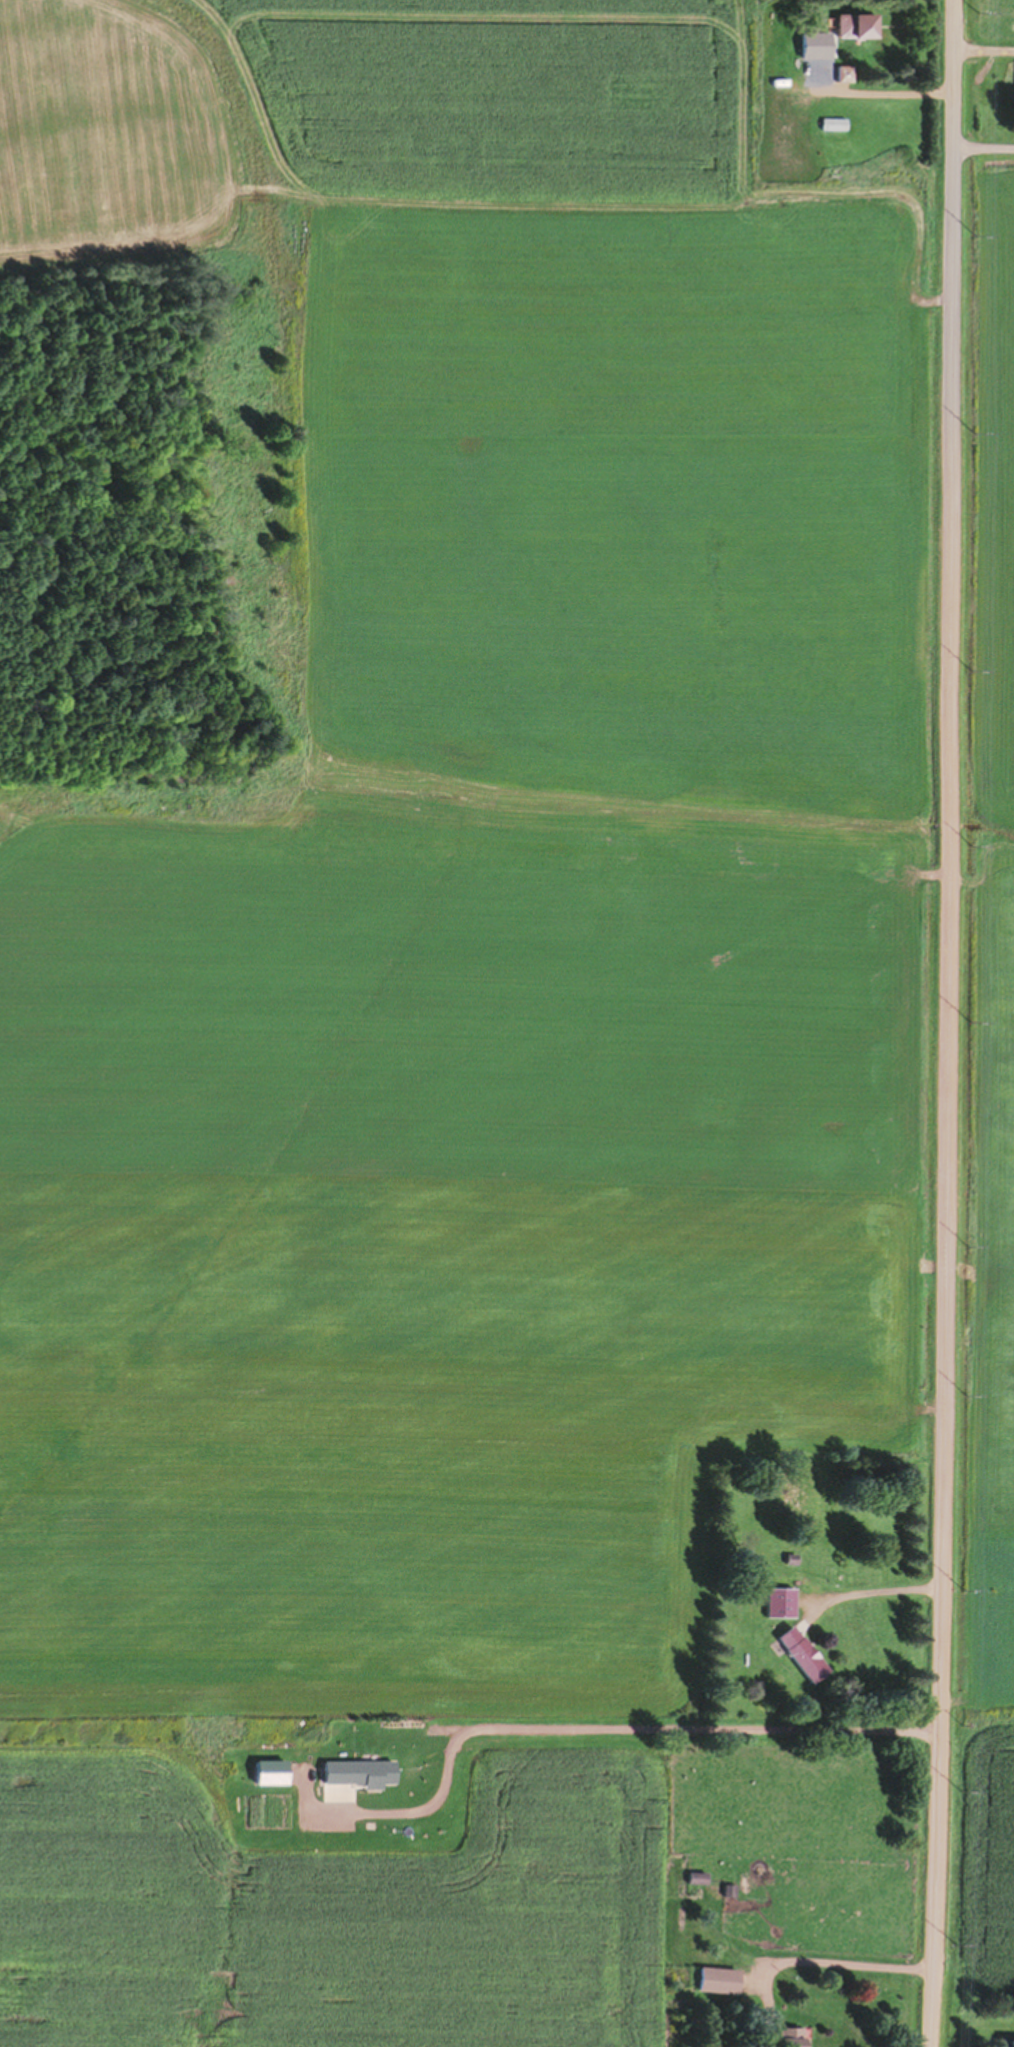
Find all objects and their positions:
building: (853, 26)
building: (843, 72)
building: (785, 111)
building: (833, 124)
road: (949, 1023)
building: (798, 1493)
building: (779, 1602)
building: (800, 1654)
building: (696, 1878)
building: (728, 1890)
building: (716, 1979)
building: (793, 2039)
building: (1009, 2042)

